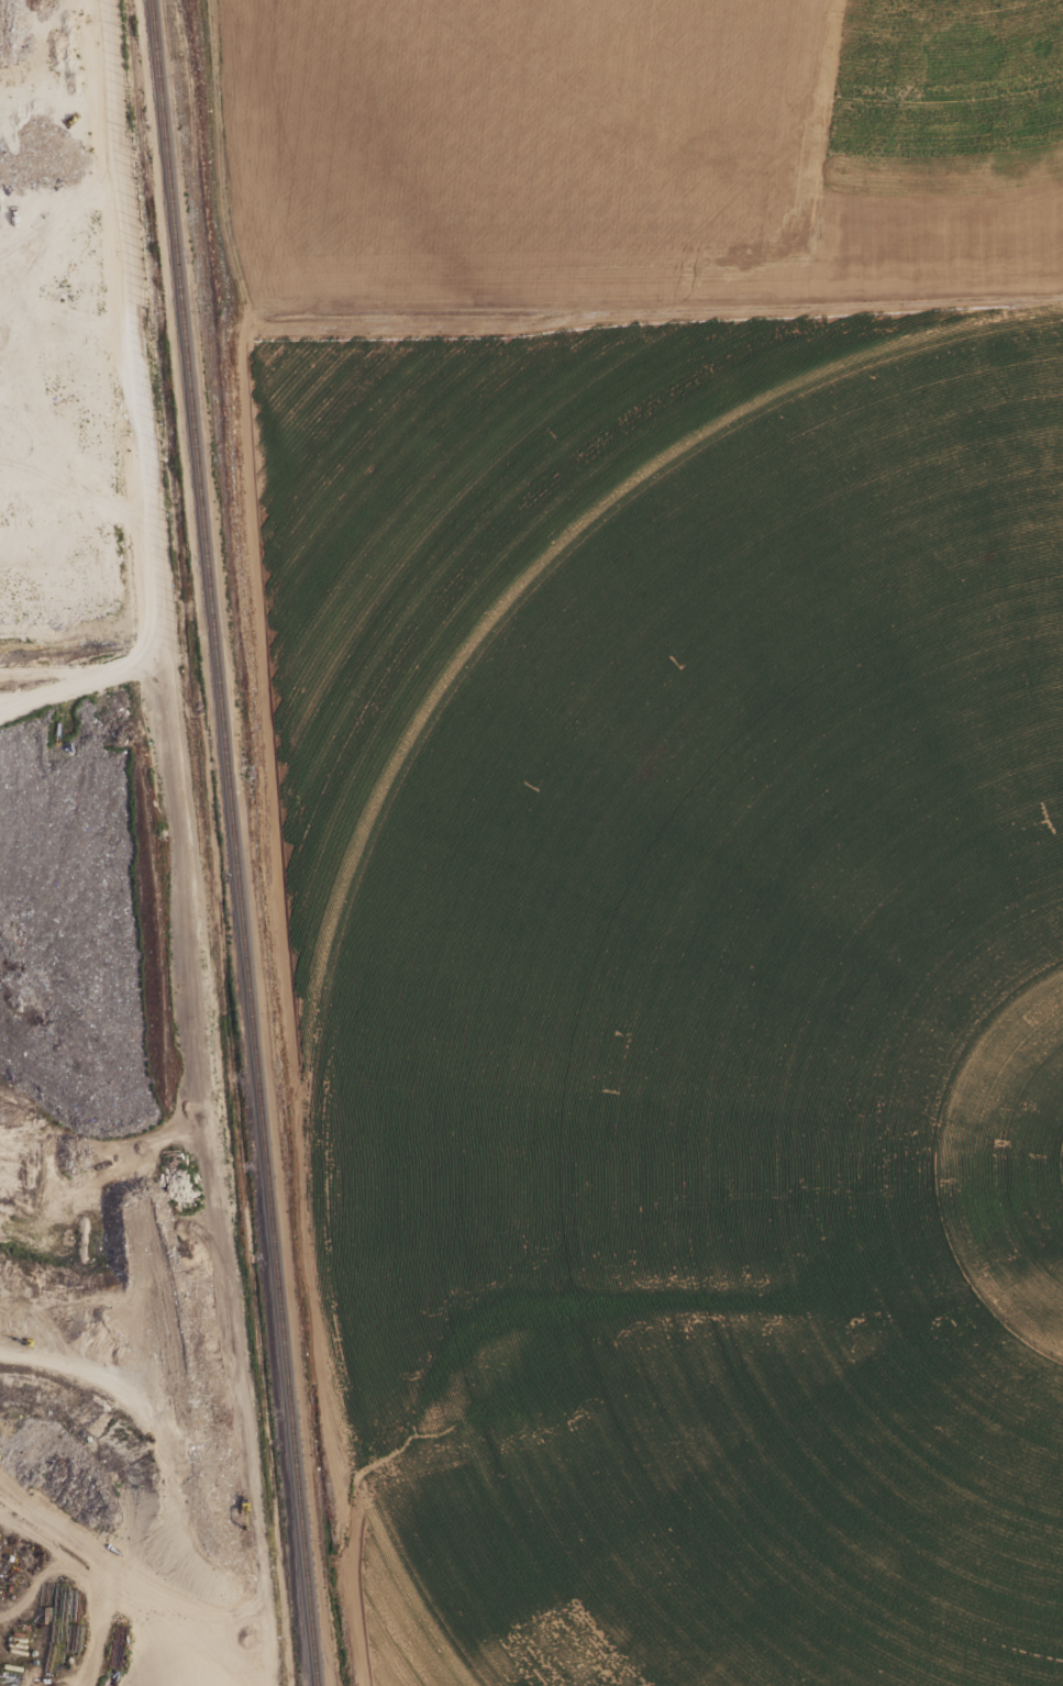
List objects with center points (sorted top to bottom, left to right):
road: (655, 308)
road: (141, 399)
road: (46, 672)
crop: (680, 722)
road: (264, 842)
railway: (235, 843)
road: (188, 907)
road: (109, 1376)
road: (240, 1394)
crop: (701, 1401)
road: (121, 1572)
road: (77, 1583)
road: (32, 1590)

